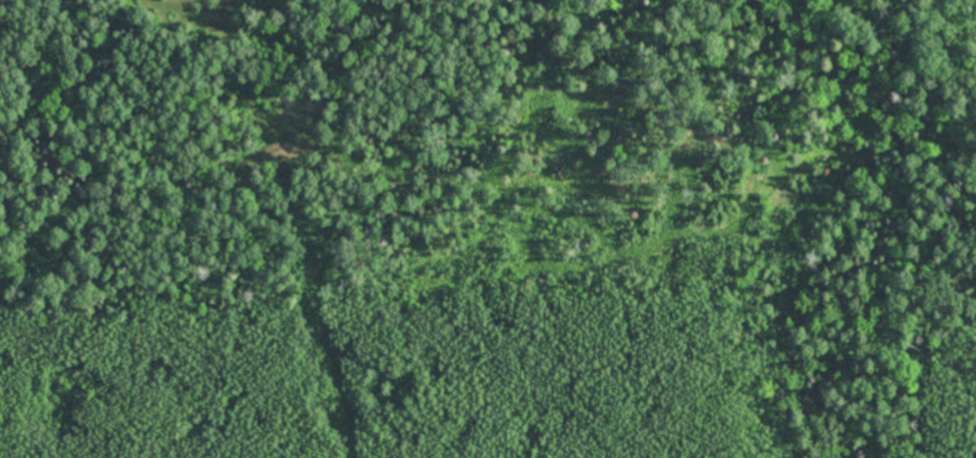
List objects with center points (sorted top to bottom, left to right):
road: (974, 347)

